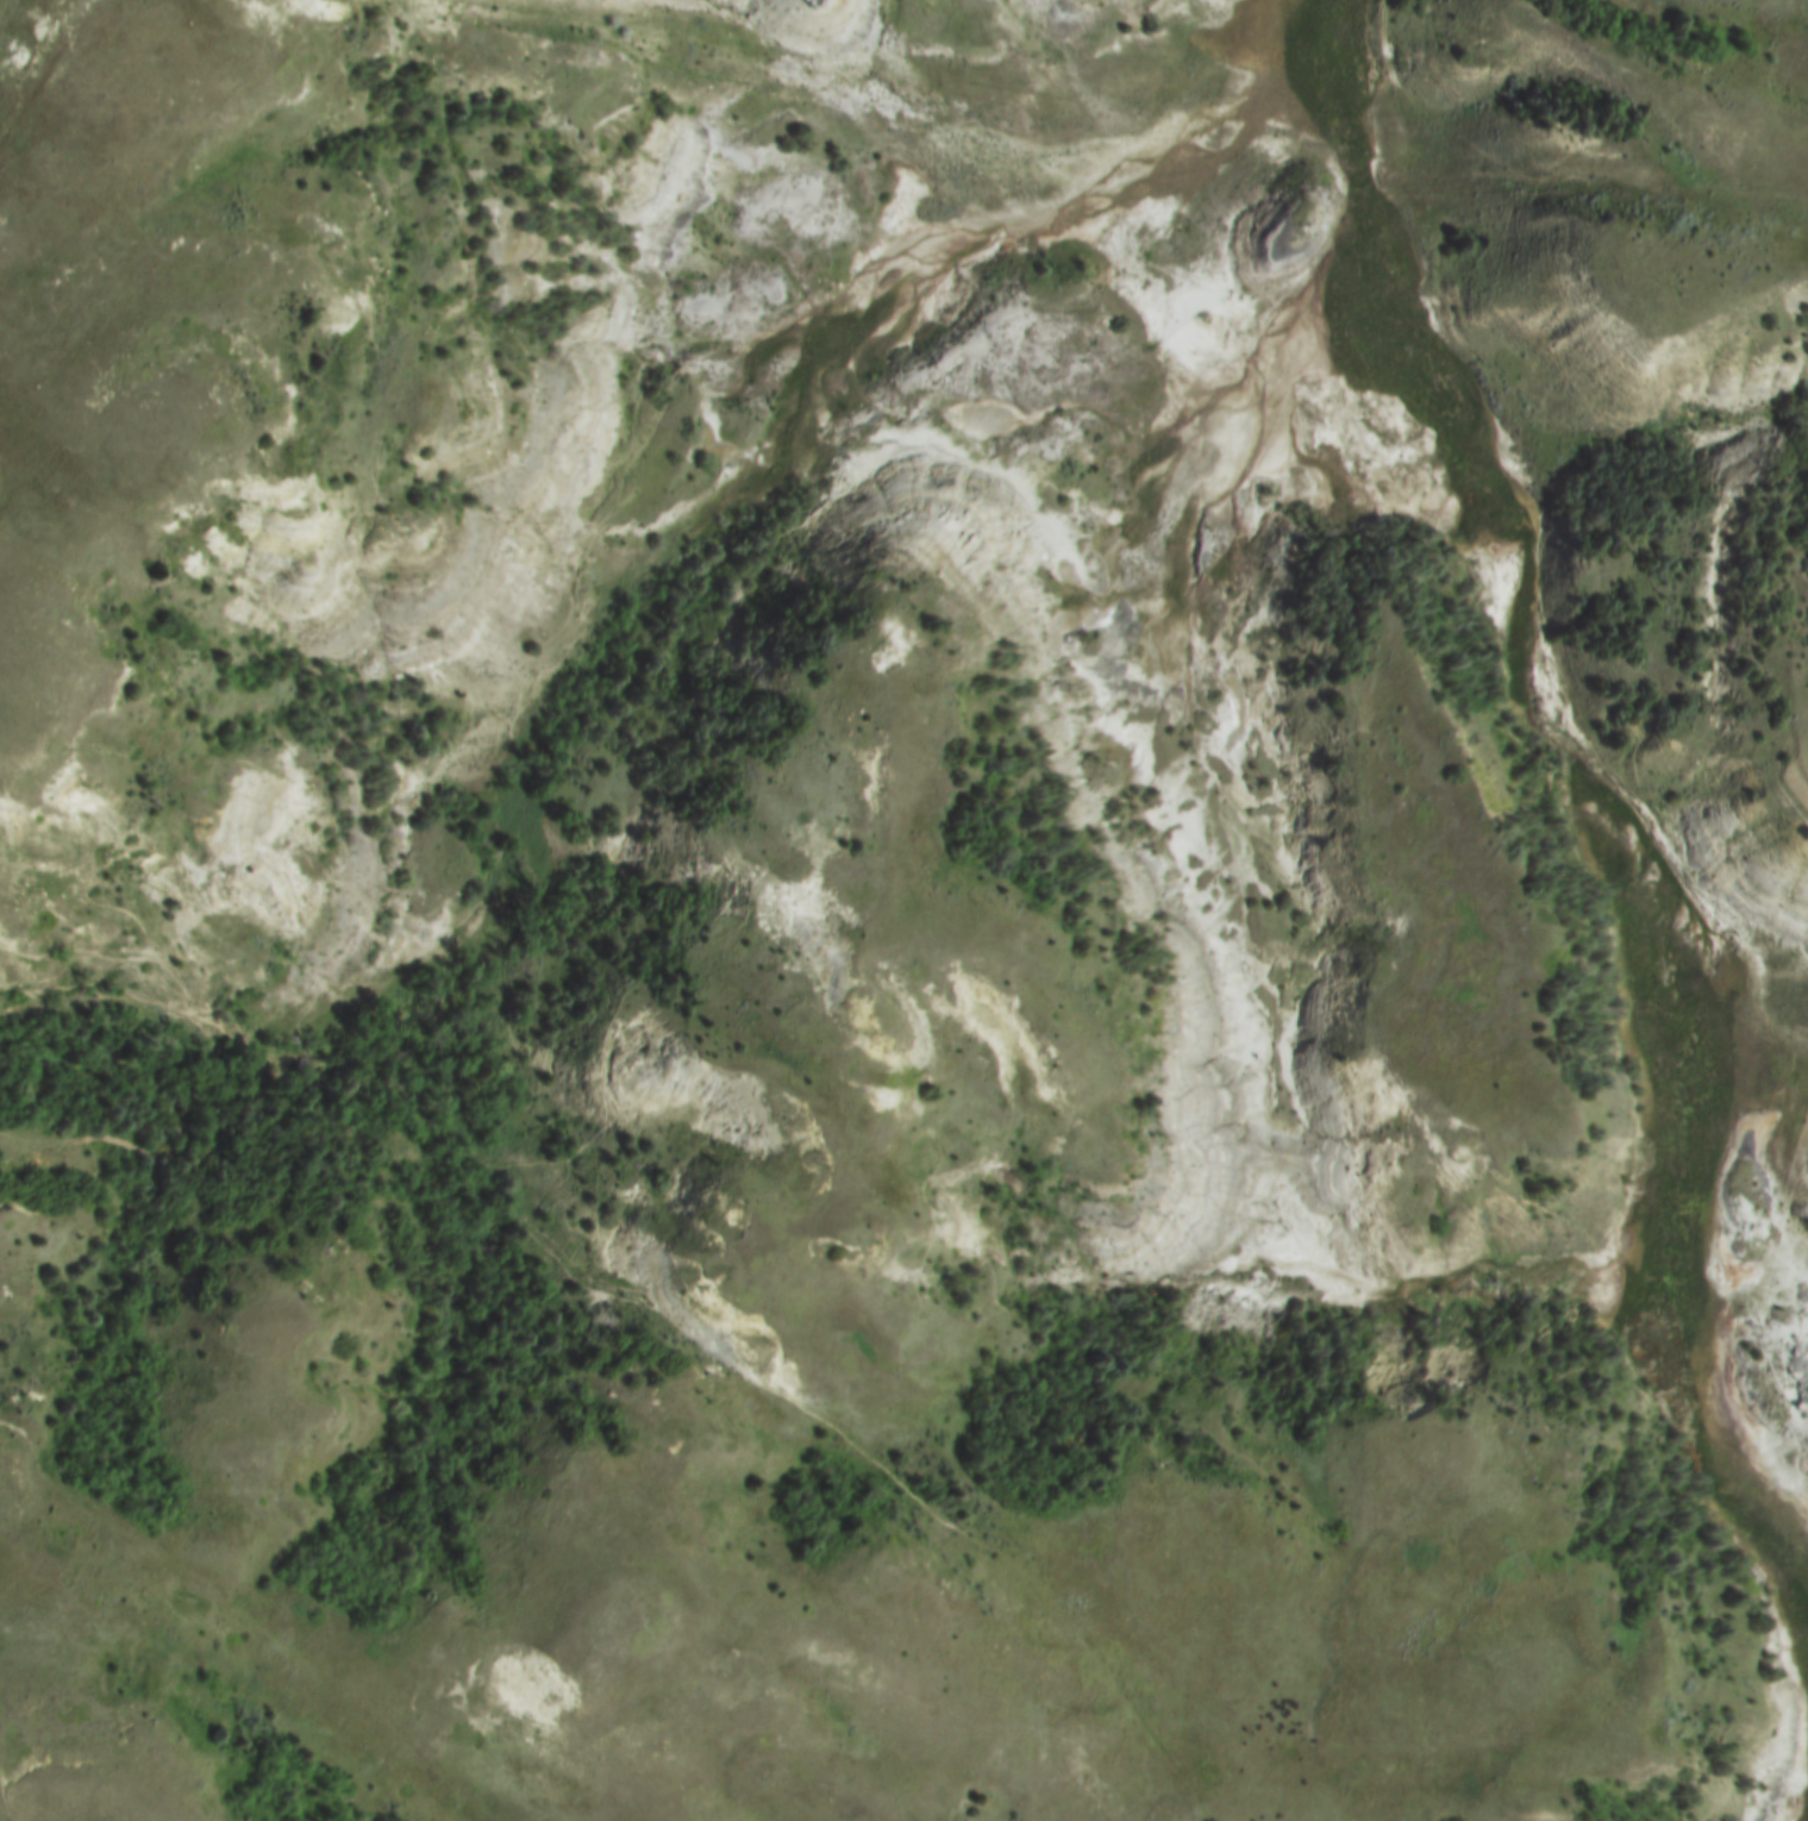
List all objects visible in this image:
road: (129, 1003)

